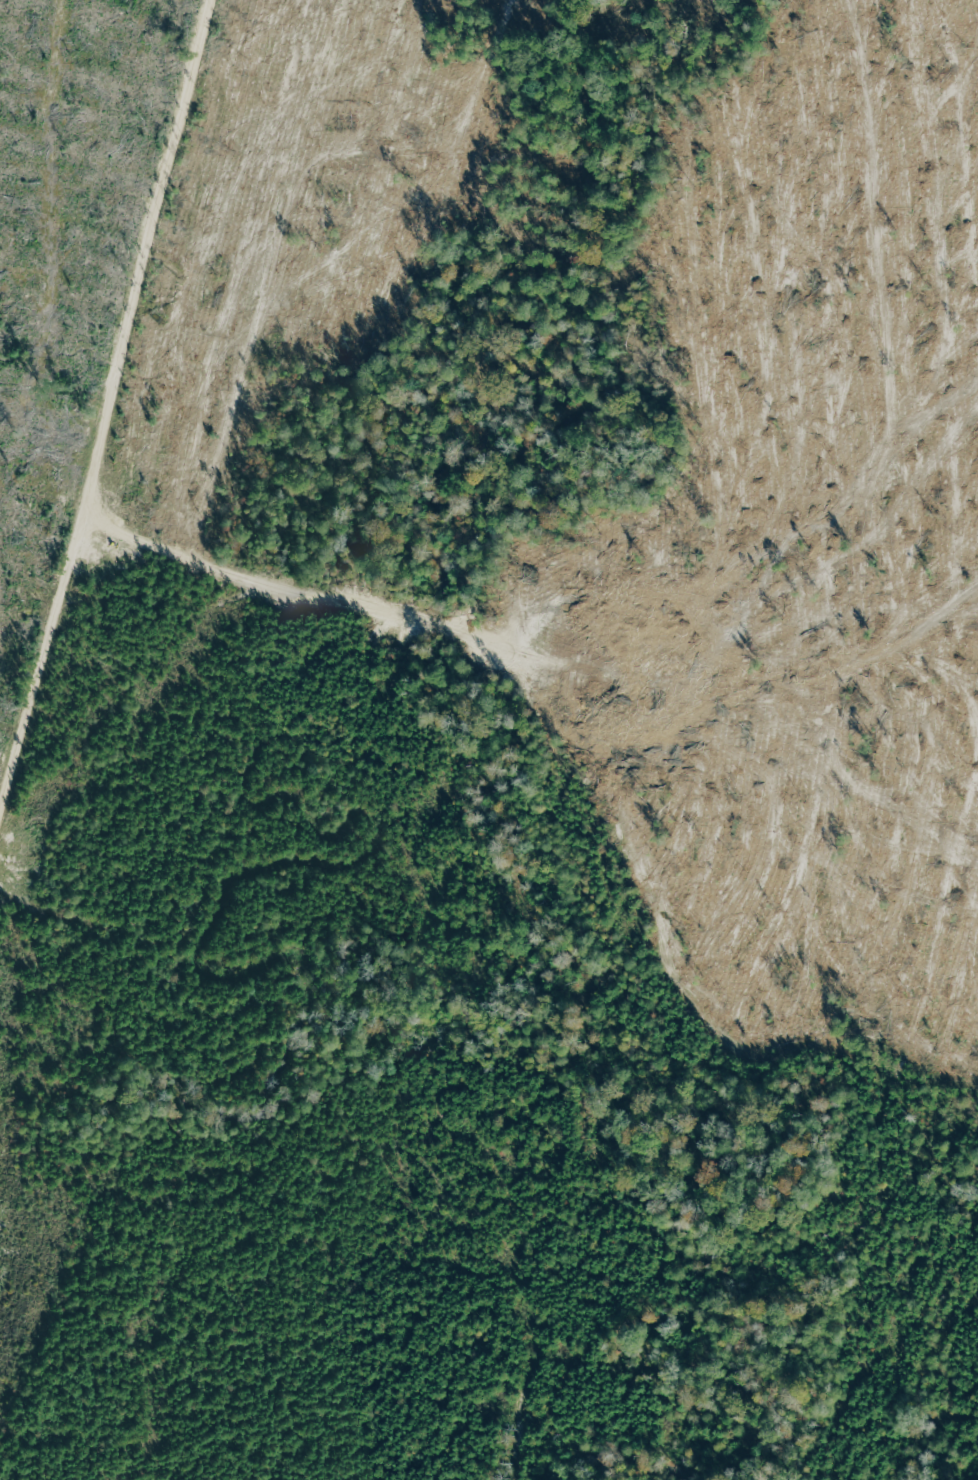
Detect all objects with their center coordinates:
road: (107, 401)

